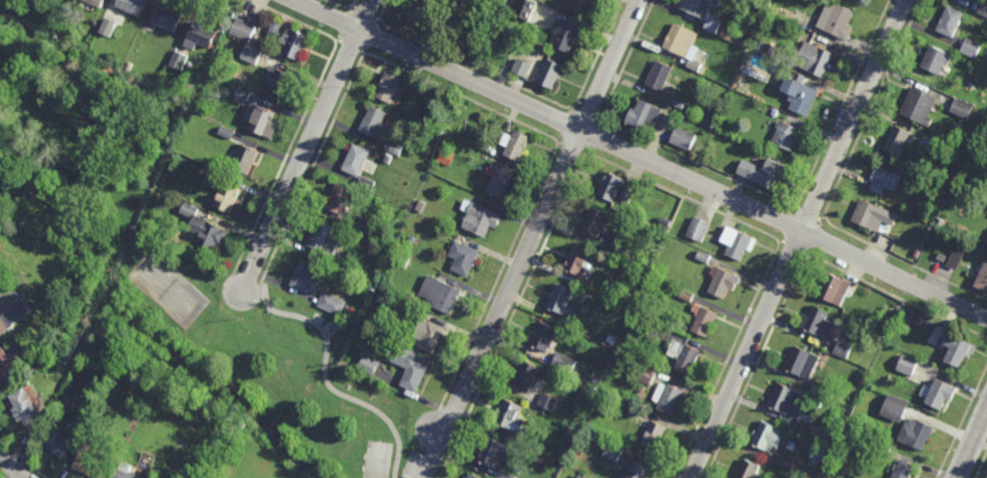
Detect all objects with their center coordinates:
building: (965, 0)
building: (31, 1)
road: (354, 2)
building: (96, 3)
building: (456, 3)
building: (586, 5)
building: (133, 6)
road: (339, 6)
road: (354, 7)
building: (524, 7)
building: (700, 7)
building: (982, 8)
road: (383, 9)
road: (365, 14)
building: (422, 14)
road: (377, 19)
building: (168, 20)
road: (295, 21)
building: (835, 21)
building: (949, 22)
road: (348, 25)
building: (107, 26)
building: (243, 29)
building: (274, 29)
building: (440, 29)
road: (369, 35)
building: (204, 36)
building: (566, 37)
building: (744, 42)
building: (682, 43)
building: (759, 44)
road: (353, 45)
building: (297, 46)
building: (971, 48)
road: (366, 52)
building: (251, 53)
road: (599, 54)
building: (178, 59)
road: (627, 60)
building: (813, 60)
building: (933, 62)
road: (474, 66)
building: (520, 66)
building: (552, 75)
building: (661, 77)
building: (164, 84)
building: (280, 84)
building: (390, 87)
building: (241, 96)
building: (801, 96)
road: (464, 97)
building: (676, 101)
road: (843, 103)
building: (915, 107)
road: (871, 108)
building: (961, 108)
road: (573, 109)
building: (774, 112)
road: (585, 116)
building: (645, 117)
road: (600, 121)
building: (262, 122)
building: (376, 123)
road: (568, 127)
building: (225, 132)
road: (588, 137)
building: (681, 138)
building: (787, 138)
building: (896, 142)
road: (559, 144)
road: (307, 145)
building: (486, 146)
building: (516, 146)
building: (942, 146)
road: (571, 147)
building: (392, 148)
road: (285, 157)
road: (640, 157)
building: (246, 159)
building: (356, 161)
road: (697, 165)
road: (312, 169)
building: (984, 170)
building: (208, 171)
building: (763, 174)
building: (883, 182)
building: (501, 183)
building: (371, 186)
building: (612, 188)
building: (628, 190)
road: (679, 194)
building: (229, 199)
building: (340, 199)
building: (420, 206)
road: (796, 208)
building: (188, 211)
building: (865, 214)
road: (808, 215)
road: (822, 218)
building: (481, 220)
building: (663, 222)
building: (594, 223)
building: (917, 224)
building: (364, 225)
road: (790, 226)
building: (697, 229)
building: (209, 234)
road: (813, 235)
road: (798, 238)
building: (411, 239)
road: (531, 239)
building: (324, 240)
building: (739, 245)
building: (609, 246)
road: (795, 247)
road: (810, 254)
building: (941, 257)
building: (464, 258)
building: (955, 258)
building: (579, 260)
road: (903, 262)
building: (337, 264)
road: (240, 276)
building: (306, 277)
road: (498, 277)
building: (982, 278)
road: (253, 282)
building: (722, 283)
building: (386, 284)
park: (167, 290)
building: (832, 291)
building: (22, 294)
building: (441, 294)
building: (685, 295)
road: (899, 298)
building: (560, 300)
building: (330, 303)
road: (510, 316)
building: (14, 317)
building: (704, 320)
building: (644, 326)
building: (819, 326)
building: (432, 337)
building: (544, 338)
building: (611, 339)
building: (841, 349)
building: (952, 352)
building: (684, 355)
road: (728, 358)
building: (563, 362)
park: (236, 363)
building: (799, 363)
building: (905, 364)
building: (367, 365)
road: (756, 365)
building: (8, 368)
building: (415, 371)
building: (642, 373)
building: (529, 376)
road: (325, 380)
building: (625, 388)
building: (821, 389)
building: (937, 395)
building: (668, 399)
building: (783, 401)
building: (546, 402)
building: (57, 405)
building: (25, 407)
building: (902, 408)
building: (634, 409)
road: (451, 415)
building: (510, 417)
road: (962, 423)
building: (802, 425)
building: (821, 434)
building: (914, 435)
building: (655, 438)
building: (765, 438)
building: (56, 441)
building: (533, 443)
road: (972, 444)
building: (883, 450)
building: (612, 452)
building: (497, 456)
building: (538, 458)
park: (377, 461)
building: (785, 464)
road: (981, 464)
building: (93, 465)
parking lot: (412, 465)
road: (10, 466)
building: (749, 470)
building: (129, 471)
building: (639, 471)
building: (565, 472)
building: (901, 472)
building: (154, 473)
building: (504, 475)
building: (574, 475)
building: (580, 476)
building: (473, 477)

